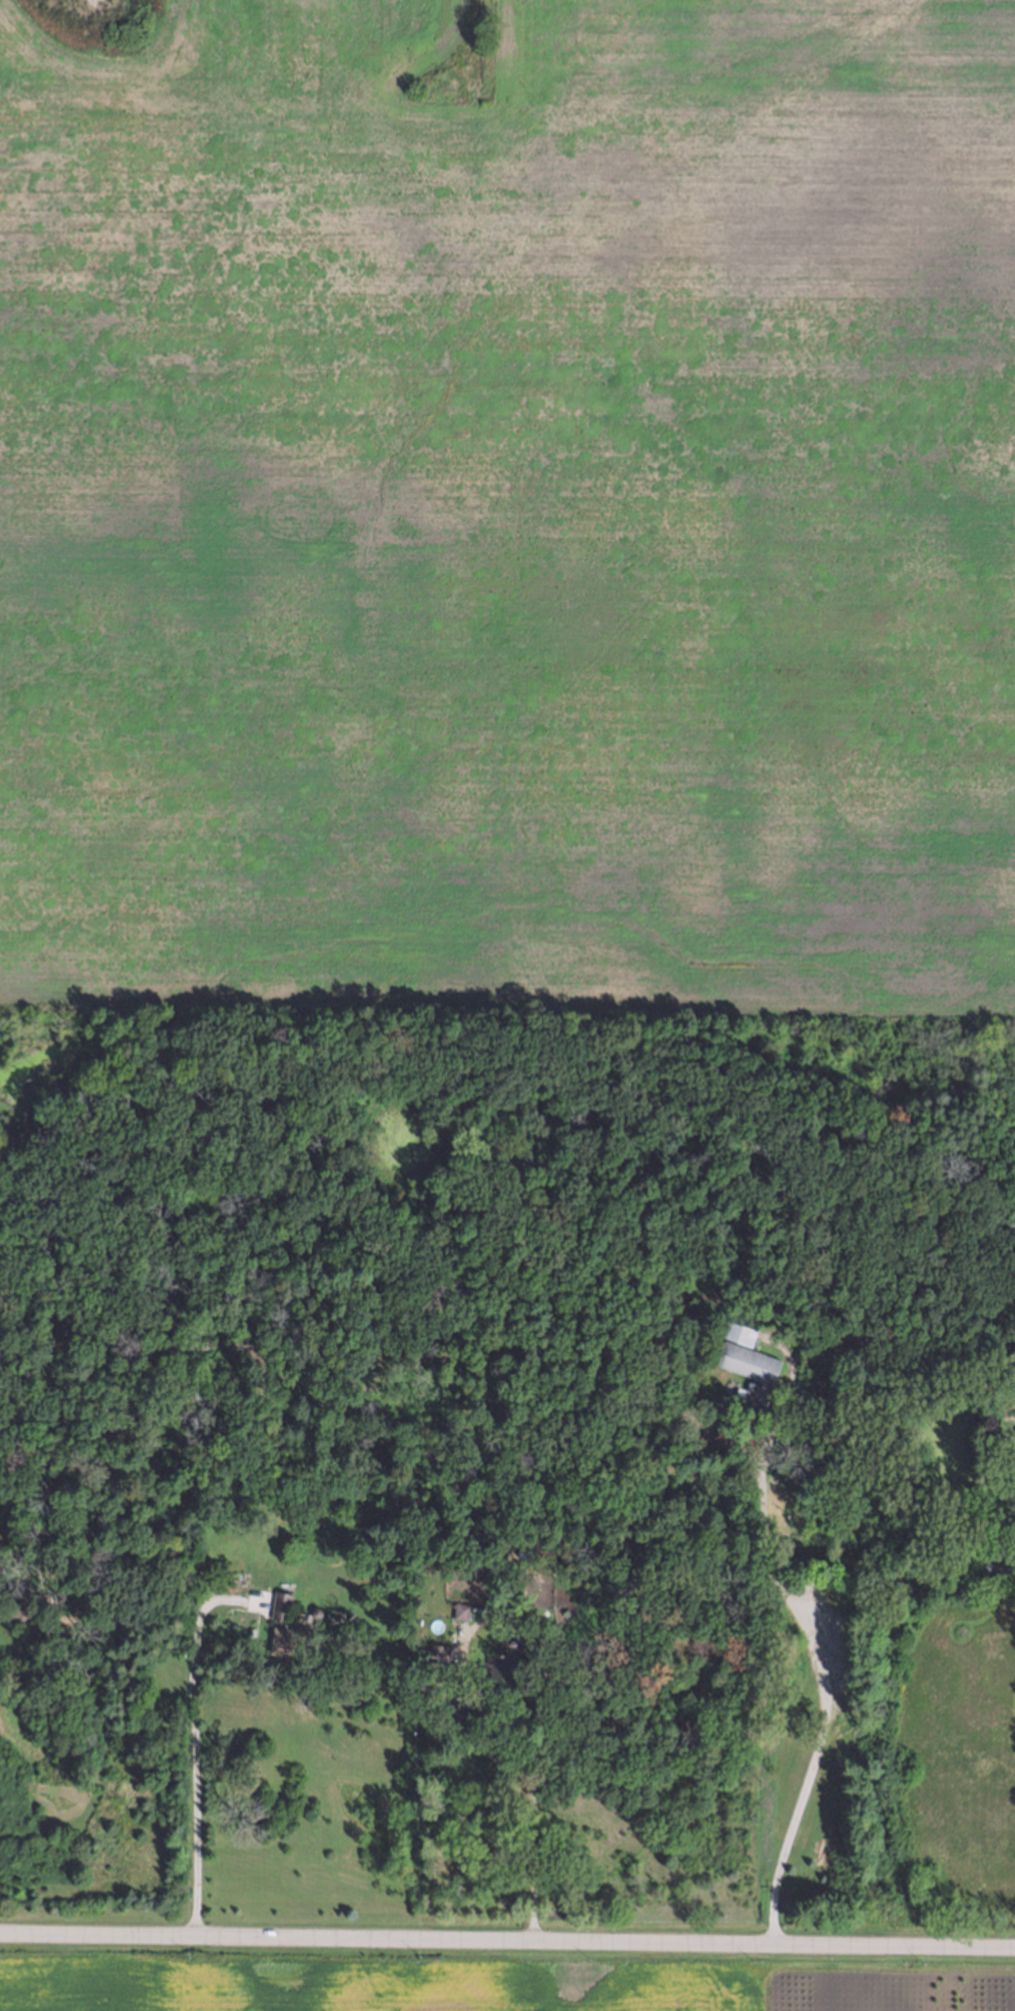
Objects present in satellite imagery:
building: (736, 1330)
building: (746, 1359)
building: (754, 1395)
building: (279, 1488)
building: (502, 1555)
building: (996, 1563)
building: (501, 1564)
building: (25, 1601)
building: (278, 1604)
building: (460, 1610)
building: (314, 1611)
building: (250, 1630)
building: (287, 1640)
road: (16, 1652)
building: (434, 1655)
road: (813, 1673)
road: (194, 1752)
road: (528, 1788)
road: (507, 1950)

